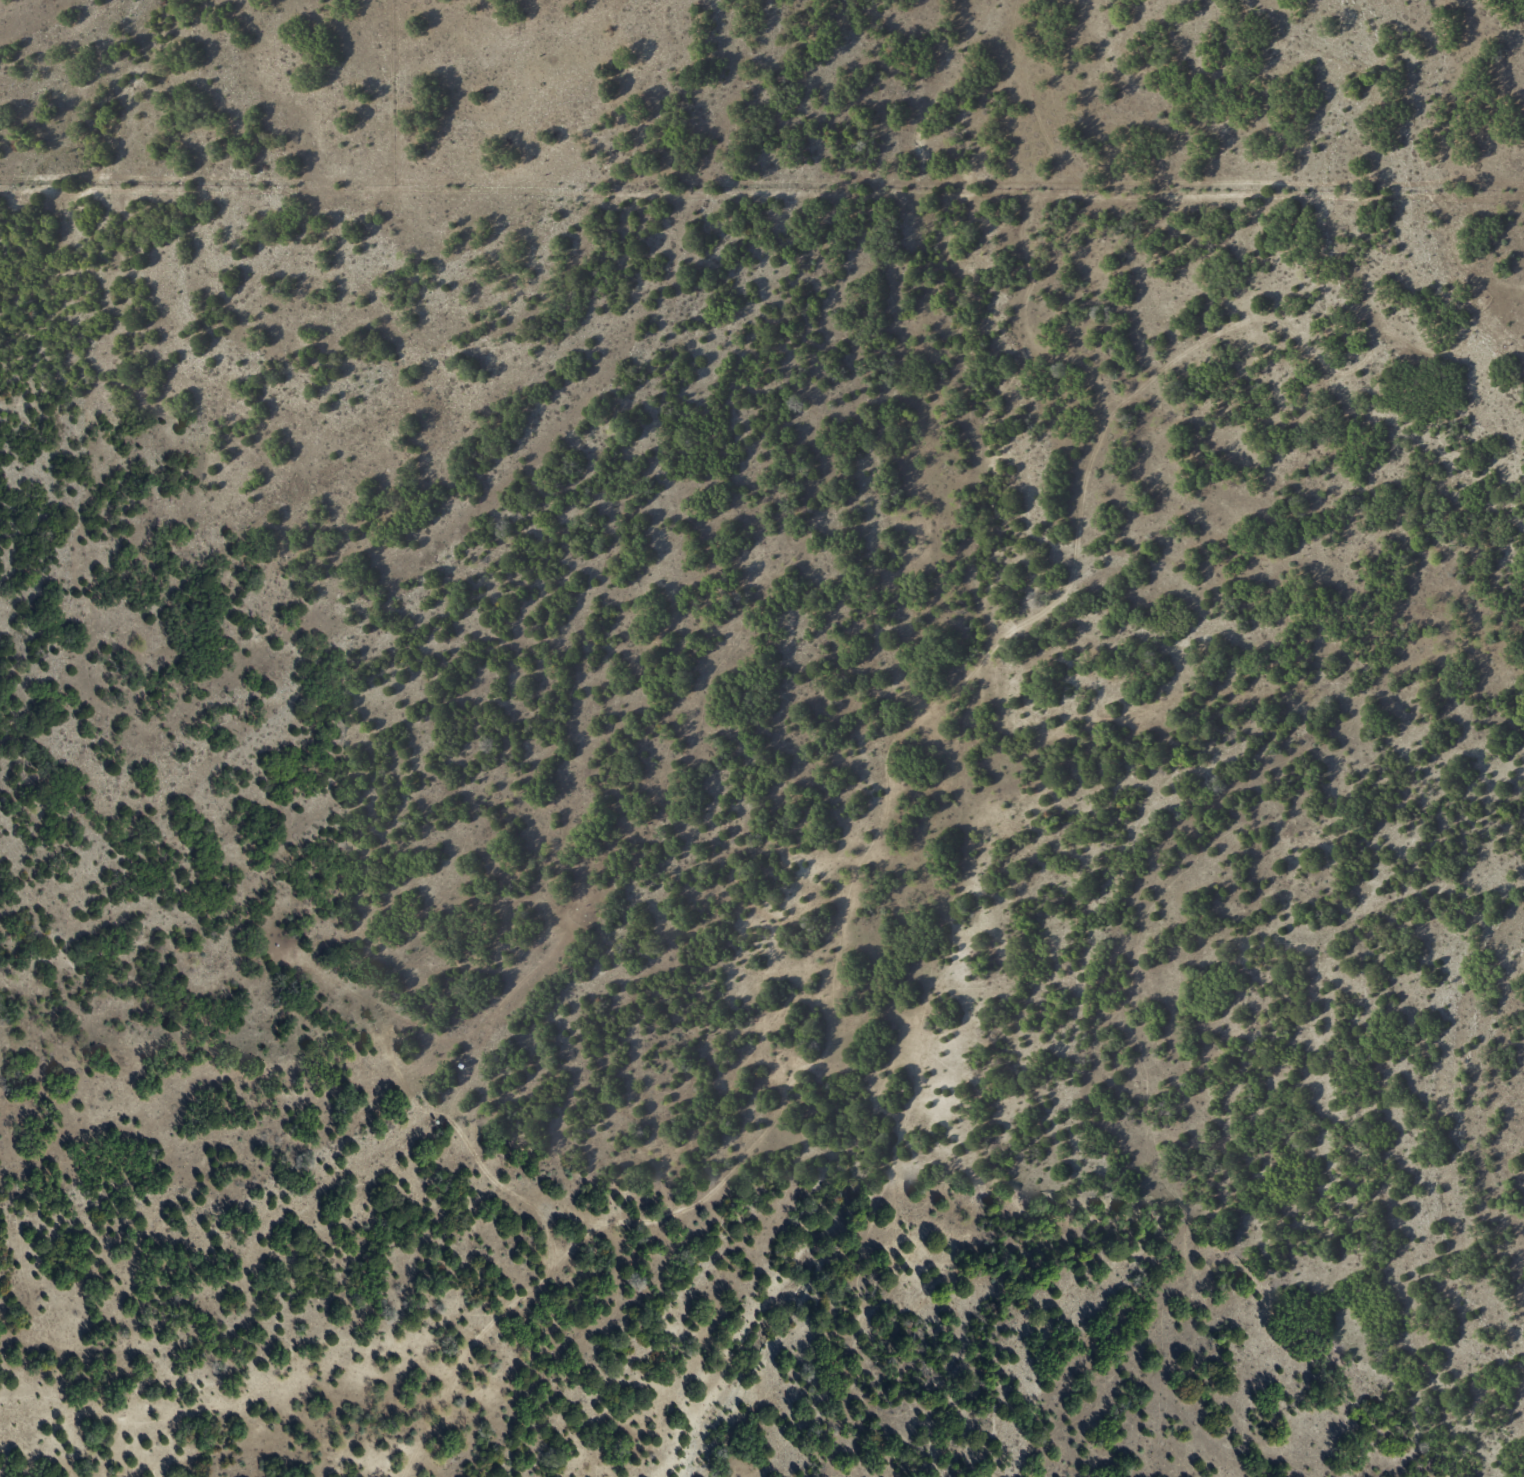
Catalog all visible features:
road: (883, 804)

